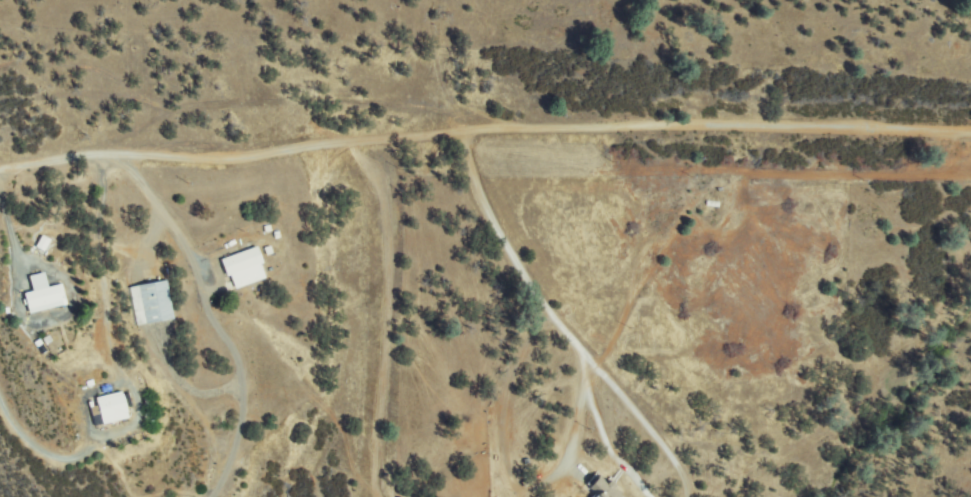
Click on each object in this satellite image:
road: (484, 132)
building: (724, 191)
building: (712, 204)
building: (266, 229)
building: (276, 235)
building: (43, 244)
building: (244, 268)
building: (42, 295)
building: (152, 302)
building: (104, 388)
building: (112, 409)
building: (95, 411)
building: (97, 420)
building: (527, 482)
building: (604, 488)

